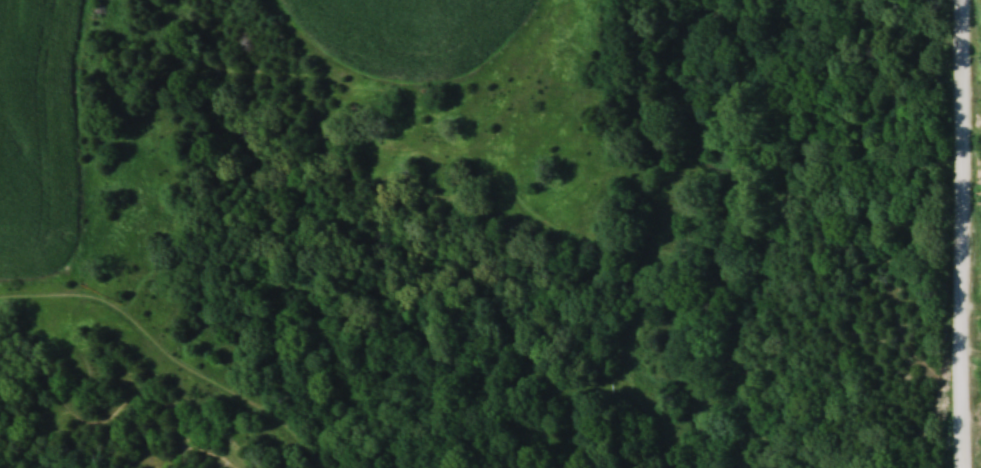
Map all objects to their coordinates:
road: (959, 233)

